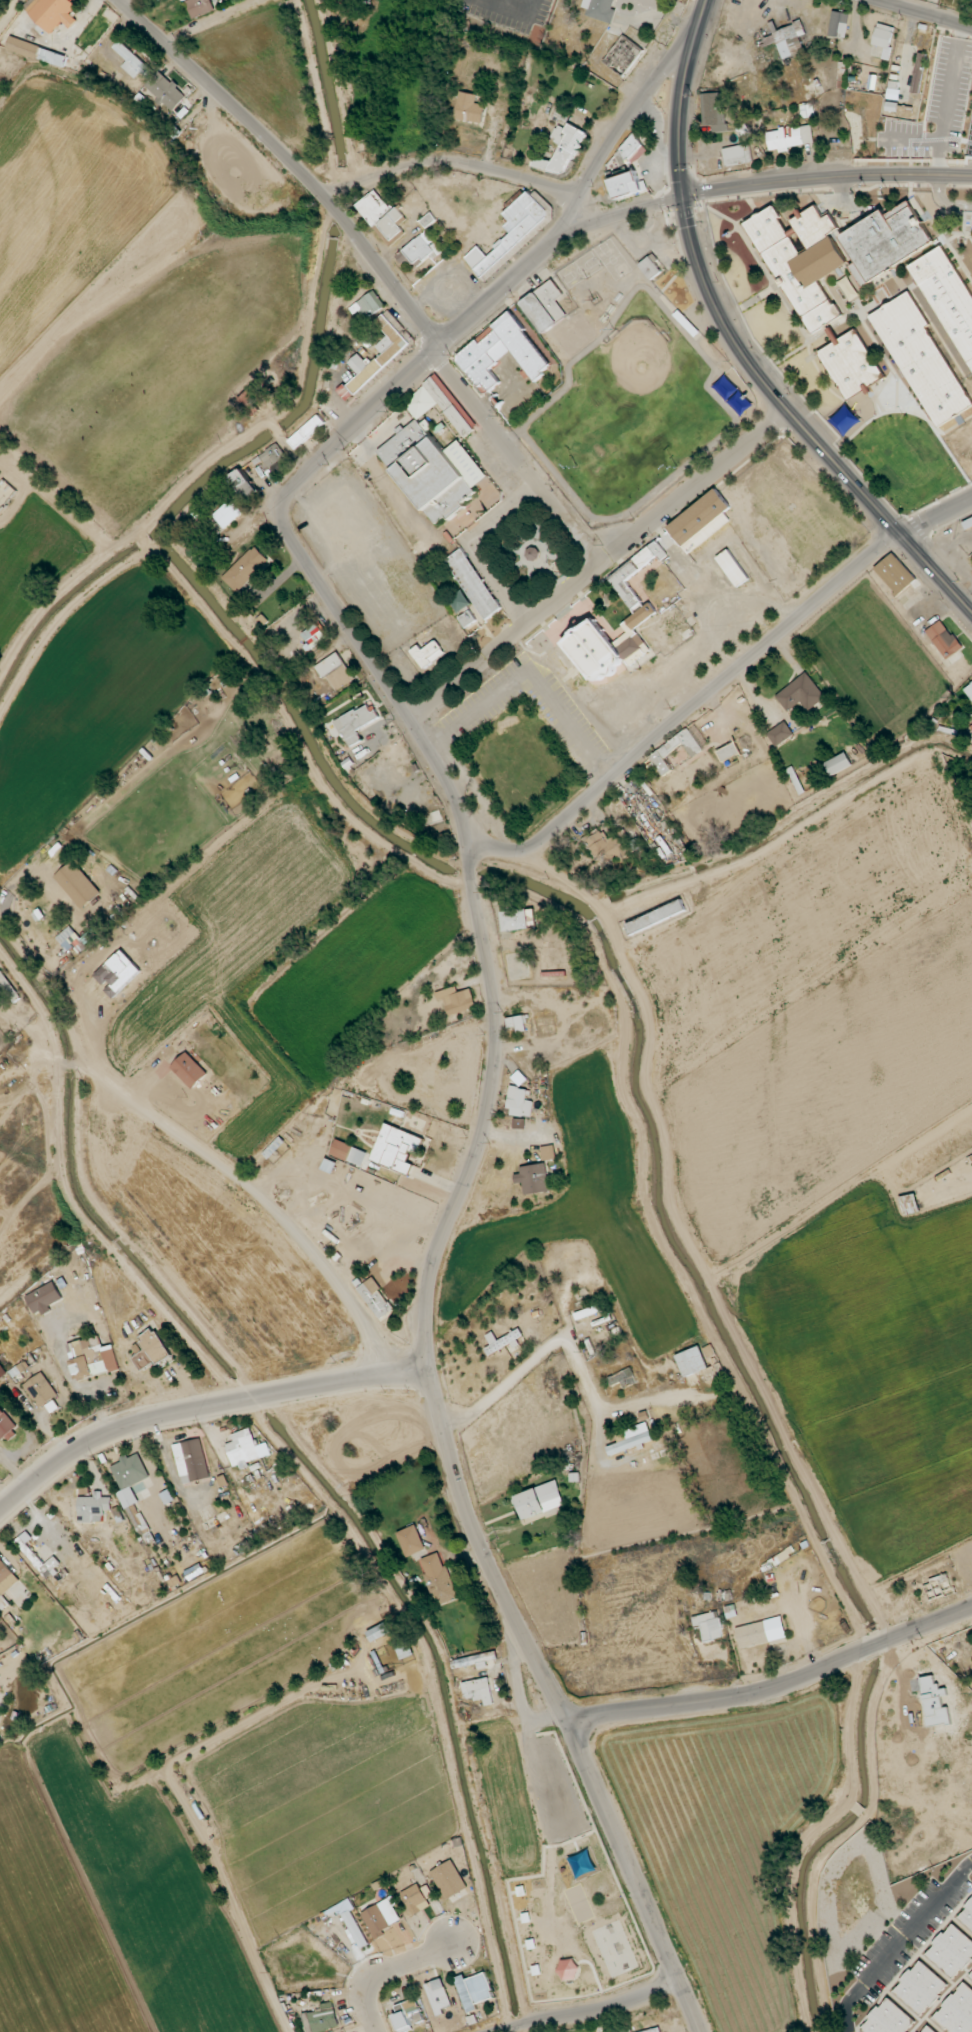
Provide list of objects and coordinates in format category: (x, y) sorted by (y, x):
building: (200, 7)
building: (602, 9)
road: (9, 12)
road: (924, 12)
building: (51, 13)
building: (839, 24)
building: (883, 36)
building: (786, 40)
building: (37, 52)
building: (623, 55)
building: (132, 62)
building: (918, 73)
building: (165, 90)
road: (681, 97)
building: (469, 108)
building: (714, 111)
building: (807, 112)
road: (617, 133)
building: (790, 137)
building: (561, 148)
building: (632, 150)
building: (738, 155)
road: (291, 162)
road: (451, 168)
road: (826, 177)
building: (627, 185)
traffic signals: (683, 197)
building: (373, 207)
road: (616, 213)
building: (428, 220)
building: (510, 233)
building: (839, 240)
building: (887, 240)
building: (420, 250)
building: (803, 261)
building: (650, 266)
building: (949, 298)
building: (369, 305)
building: (545, 306)
building: (503, 353)
building: (380, 354)
building: (922, 360)
building: (851, 363)
road: (413, 369)
building: (441, 405)
road: (798, 422)
building: (306, 429)
road: (515, 456)
building: (270, 465)
building: (434, 470)
building: (245, 484)
building: (227, 513)
road: (602, 518)
building: (703, 520)
building: (534, 551)
road: (597, 563)
building: (732, 568)
building: (246, 569)
building: (895, 574)
building: (470, 593)
building: (636, 594)
building: (314, 636)
building: (944, 639)
building: (429, 652)
building: (593, 653)
building: (335, 671)
road: (385, 682)
road: (720, 683)
building: (969, 691)
building: (800, 693)
building: (354, 724)
building: (971, 726)
building: (780, 733)
building: (729, 752)
building: (661, 753)
building: (838, 763)
building: (606, 847)
road: (472, 877)
building: (77, 884)
building: (656, 917)
building: (515, 920)
building: (72, 939)
building: (118, 973)
building: (8, 990)
building: (456, 1000)
building: (517, 1023)
building: (190, 1070)
building: (519, 1102)
road: (483, 1129)
building: (396, 1148)
building: (548, 1152)
building: (348, 1153)
building: (533, 1178)
road: (265, 1202)
building: (910, 1204)
building: (44, 1298)
building: (375, 1298)
building: (502, 1341)
building: (151, 1349)
road: (504, 1355)
building: (92, 1358)
building: (692, 1361)
building: (2, 1371)
building: (623, 1378)
building: (40, 1390)
road: (200, 1406)
building: (6, 1427)
building: (630, 1443)
building: (245, 1448)
building: (191, 1461)
building: (130, 1471)
building: (540, 1500)
building: (93, 1508)
building: (411, 1541)
road: (480, 1550)
building: (438, 1579)
building: (6, 1582)
building: (709, 1625)
road: (924, 1626)
building: (379, 1632)
building: (761, 1632)
road: (870, 1647)
building: (478, 1691)
road: (719, 1699)
building: (0, 1710)
road: (546, 1720)
road: (540, 1837)
road: (632, 1876)
building: (449, 1879)
building: (417, 1898)
building: (967, 1916)
building: (381, 1917)
building: (355, 1929)
road: (897, 1942)
building: (951, 1950)
road: (380, 1968)
building: (568, 1969)
building: (971, 1975)
building: (920, 1987)
building: (474, 1990)
building: (438, 1996)
road: (592, 2008)
building: (408, 2009)
building: (957, 2011)
building: (322, 2019)
building: (888, 2019)
road: (683, 2024)
building: (622, 2028)
building: (928, 2029)
building: (654, 2030)

